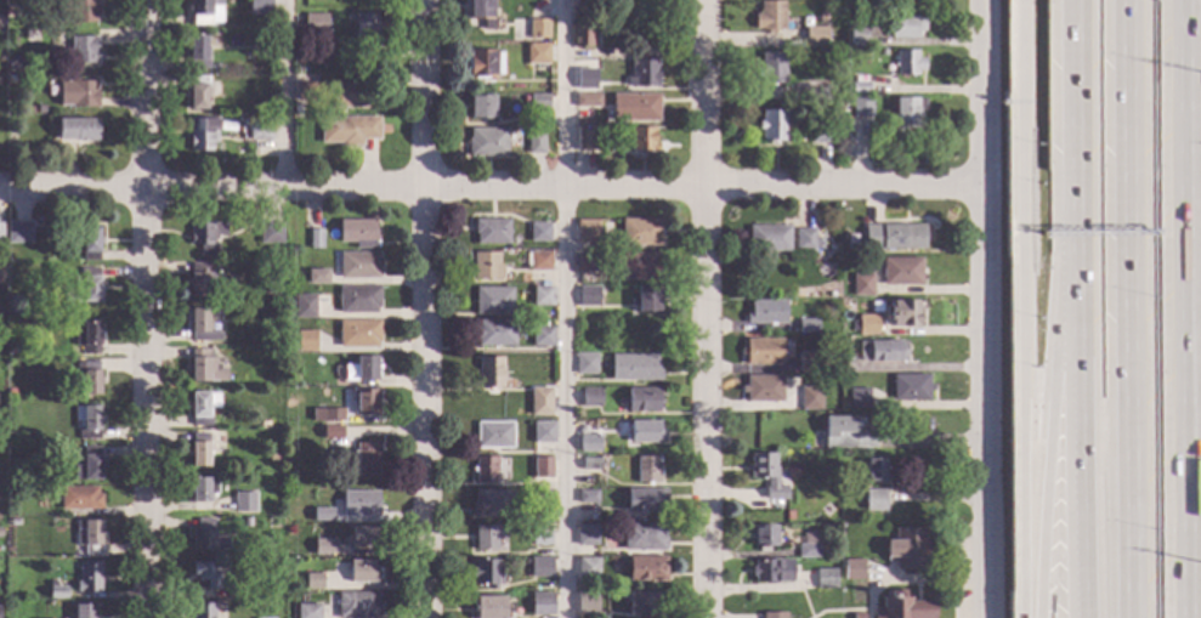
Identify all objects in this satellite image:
building: (587, 2)
building: (9, 8)
building: (79, 12)
building: (203, 12)
building: (480, 12)
building: (769, 17)
building: (821, 17)
building: (315, 24)
building: (905, 27)
building: (364, 28)
building: (538, 29)
building: (856, 35)
building: (582, 38)
building: (815, 38)
road: (1185, 40)
road: (1194, 47)
building: (83, 51)
building: (197, 51)
building: (882, 52)
building: (537, 53)
building: (1, 56)
building: (906, 63)
building: (13, 64)
building: (483, 64)
building: (216, 68)
building: (771, 68)
building: (642, 74)
building: (11, 79)
building: (585, 81)
building: (859, 89)
building: (198, 92)
building: (306, 92)
building: (78, 93)
road: (282, 93)
building: (352, 95)
building: (816, 95)
building: (537, 101)
building: (585, 101)
building: (480, 108)
building: (634, 108)
building: (860, 108)
building: (30, 109)
building: (39, 109)
building: (906, 112)
building: (771, 125)
road: (1072, 127)
building: (259, 129)
building: (77, 130)
building: (347, 130)
building: (202, 134)
building: (818, 134)
building: (11, 137)
building: (585, 140)
building: (641, 140)
building: (486, 142)
building: (534, 143)
road: (489, 187)
building: (605, 226)
building: (489, 231)
building: (585, 231)
building: (270, 232)
building: (538, 232)
building: (639, 232)
building: (0, 233)
building: (18, 233)
building: (357, 233)
building: (205, 237)
building: (893, 237)
building: (315, 239)
building: (767, 239)
building: (805, 240)
building: (89, 244)
building: (514, 244)
building: (537, 261)
building: (584, 262)
building: (355, 265)
building: (486, 266)
building: (639, 266)
building: (866, 268)
building: (0, 272)
building: (900, 272)
building: (316, 277)
building: (203, 282)
building: (861, 285)
building: (83, 288)
building: (272, 295)
building: (542, 296)
building: (587, 296)
building: (357, 299)
building: (645, 299)
building: (492, 301)
building: (304, 307)
road: (146, 308)
road: (426, 308)
road: (563, 308)
road: (704, 308)
road: (980, 308)
road: (1019, 308)
road: (1128, 308)
building: (765, 312)
building: (902, 313)
building: (863, 324)
building: (200, 327)
building: (808, 327)
building: (357, 333)
building: (494, 333)
building: (86, 336)
building: (542, 336)
building: (305, 341)
building: (835, 350)
road: (1188, 350)
building: (11, 351)
building: (880, 351)
building: (761, 352)
building: (808, 363)
building: (585, 364)
building: (204, 367)
building: (634, 367)
building: (361, 369)
building: (489, 373)
building: (87, 378)
building: (274, 378)
building: (290, 380)
building: (910, 387)
building: (761, 389)
building: (10, 392)
building: (590, 398)
building: (809, 398)
building: (857, 398)
building: (642, 399)
building: (364, 402)
building: (539, 402)
building: (202, 407)
building: (327, 415)
building: (86, 423)
building: (262, 425)
building: (543, 432)
building: (645, 432)
building: (846, 433)
building: (494, 435)
road: (1049, 435)
road: (1076, 436)
building: (332, 437)
building: (10, 440)
building: (589, 443)
building: (198, 450)
building: (271, 458)
building: (366, 459)
building: (590, 464)
building: (87, 465)
building: (542, 467)
building: (12, 469)
building: (485, 469)
building: (646, 470)
building: (873, 470)
building: (766, 475)
building: (202, 489)
building: (11, 491)
building: (587, 497)
building: (78, 498)
building: (542, 500)
building: (645, 500)
building: (873, 500)
building: (243, 503)
building: (359, 504)
building: (491, 504)
building: (322, 515)
building: (788, 515)
building: (593, 517)
building: (86, 535)
building: (585, 535)
building: (206, 537)
building: (363, 537)
building: (487, 537)
building: (642, 537)
building: (763, 537)
building: (540, 538)
building: (601, 545)
building: (323, 548)
building: (594, 548)
building: (906, 549)
building: (806, 551)
building: (540, 567)
building: (587, 568)
building: (646, 569)
building: (852, 569)
road: (956, 569)
building: (362, 572)
building: (771, 572)
building: (293, 573)
building: (209, 574)
building: (486, 574)
building: (87, 578)
building: (825, 579)
building: (312, 580)
building: (57, 591)
building: (236, 593)
building: (585, 601)
building: (641, 602)
building: (542, 603)
building: (356, 605)
building: (488, 607)
building: (901, 607)
building: (83, 611)
building: (202, 611)
building: (307, 611)
building: (772, 614)
building: (856, 616)

